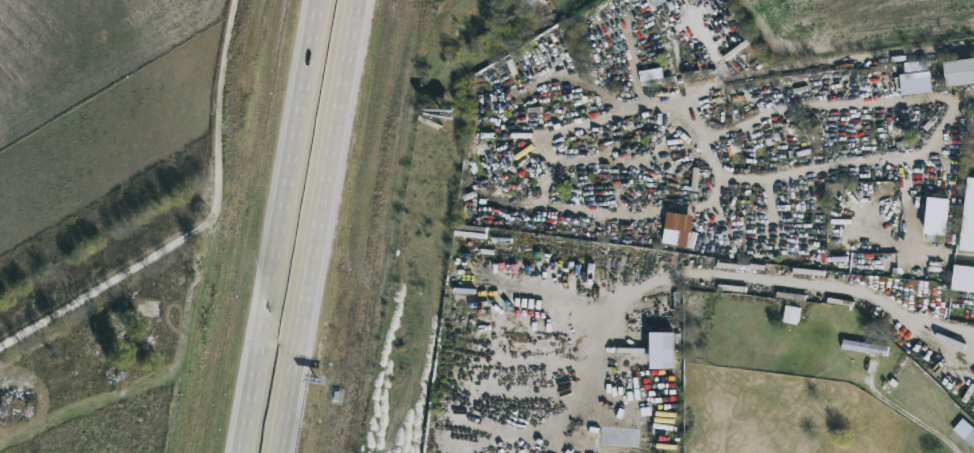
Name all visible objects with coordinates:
building: (916, 65)
building: (959, 69)
building: (937, 214)
road: (203, 226)
road: (279, 226)
road: (317, 226)
building: (151, 274)
building: (963, 276)
road: (786, 284)
building: (142, 314)
building: (865, 346)
building: (973, 357)
building: (971, 369)
road: (904, 415)

